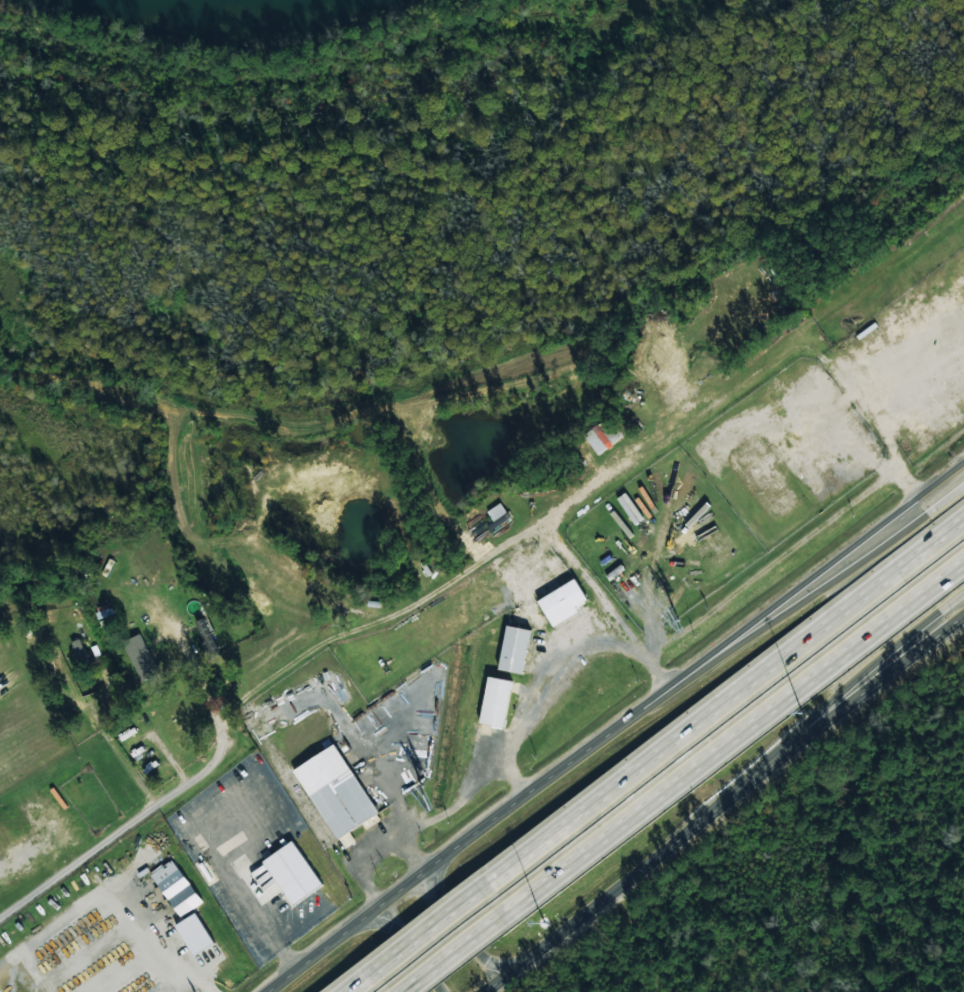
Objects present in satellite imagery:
building: (603, 436)
building: (815, 483)
building: (497, 516)
road: (816, 570)
road: (821, 587)
building: (562, 602)
building: (207, 634)
building: (514, 649)
building: (79, 650)
building: (141, 657)
road: (295, 658)
road: (547, 661)
road: (873, 662)
road: (194, 674)
road: (653, 698)
road: (657, 701)
building: (495, 702)
road: (715, 705)
road: (720, 729)
road: (117, 755)
building: (335, 791)
road: (721, 799)
road: (449, 850)
building: (292, 872)
building: (176, 887)
road: (456, 928)
road: (423, 930)
building: (195, 933)
road: (402, 940)
road: (444, 947)
road: (361, 977)
road: (398, 983)

